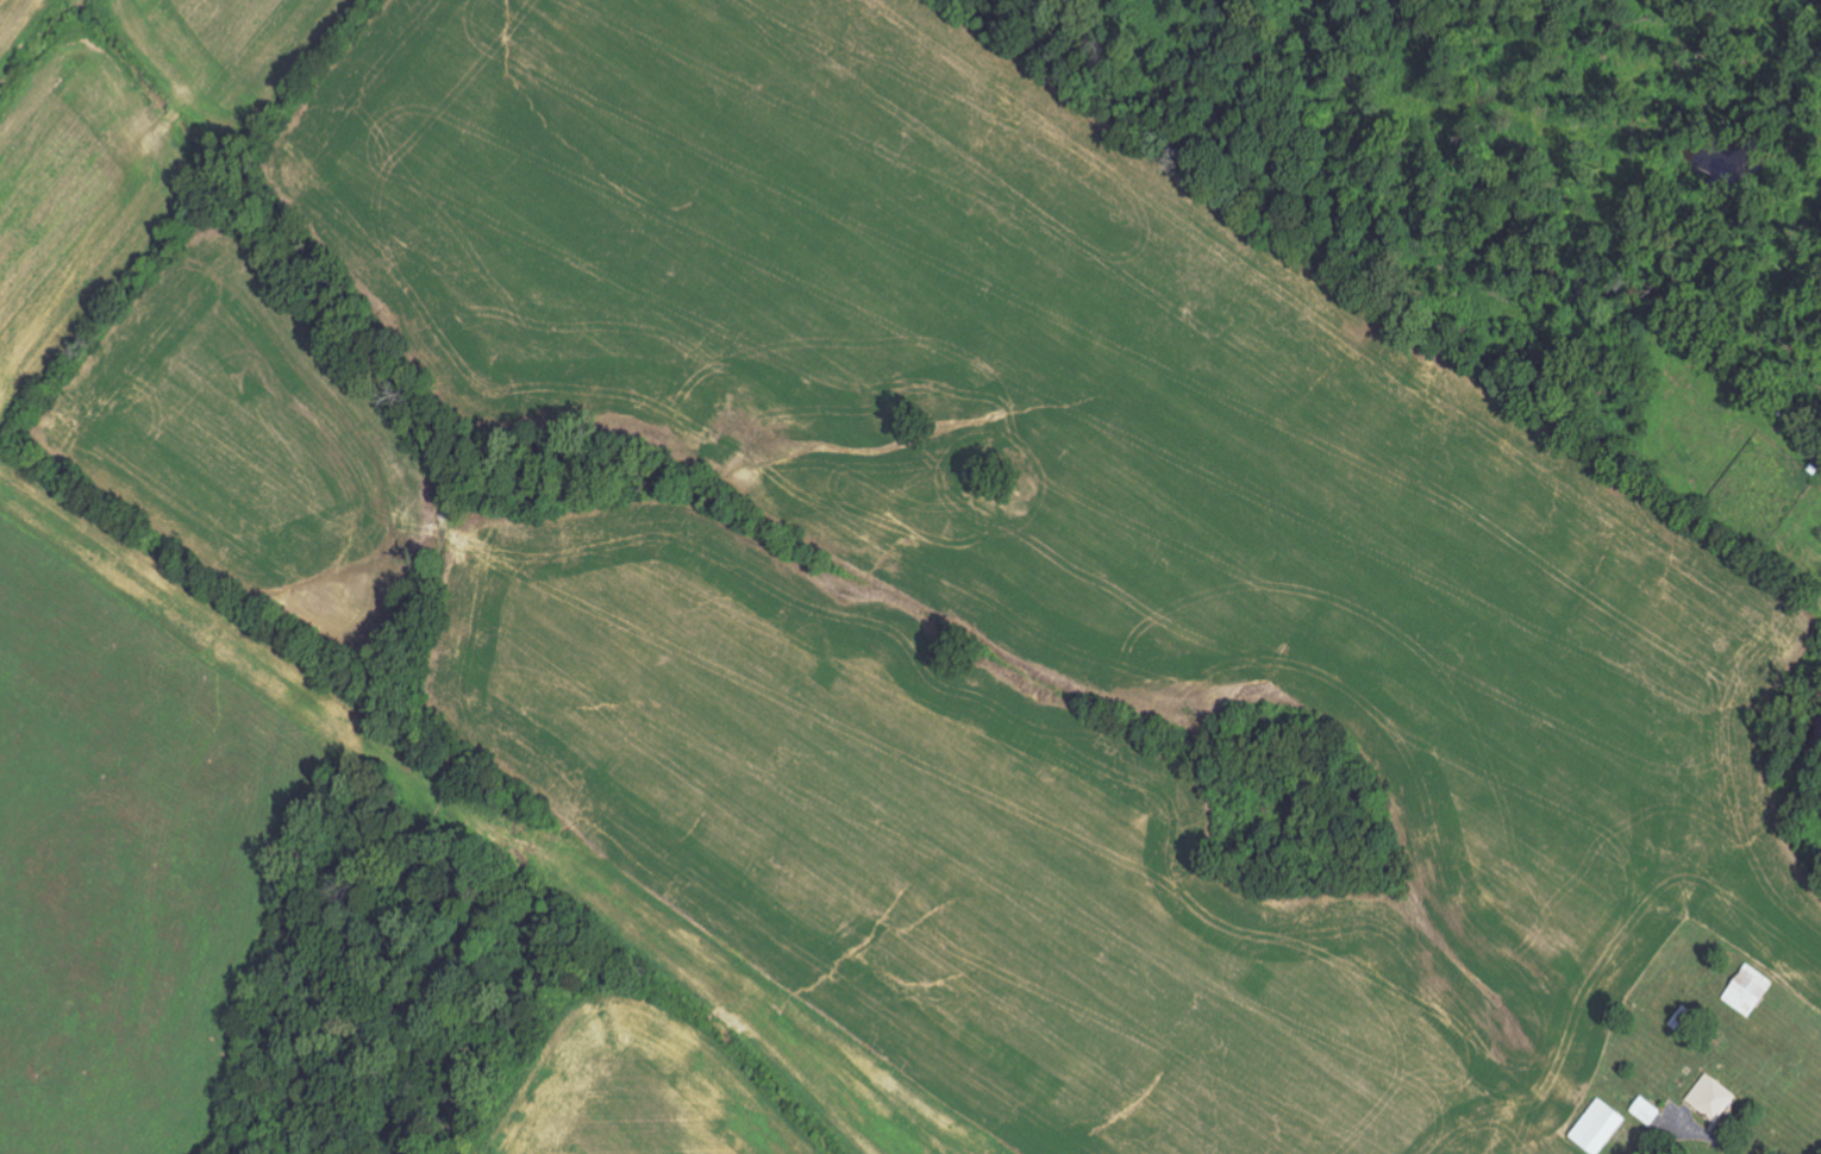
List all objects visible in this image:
building: (1752, 991)
building: (1716, 1096)
building: (1648, 1111)
building: (1601, 1127)
road: (1703, 1135)

